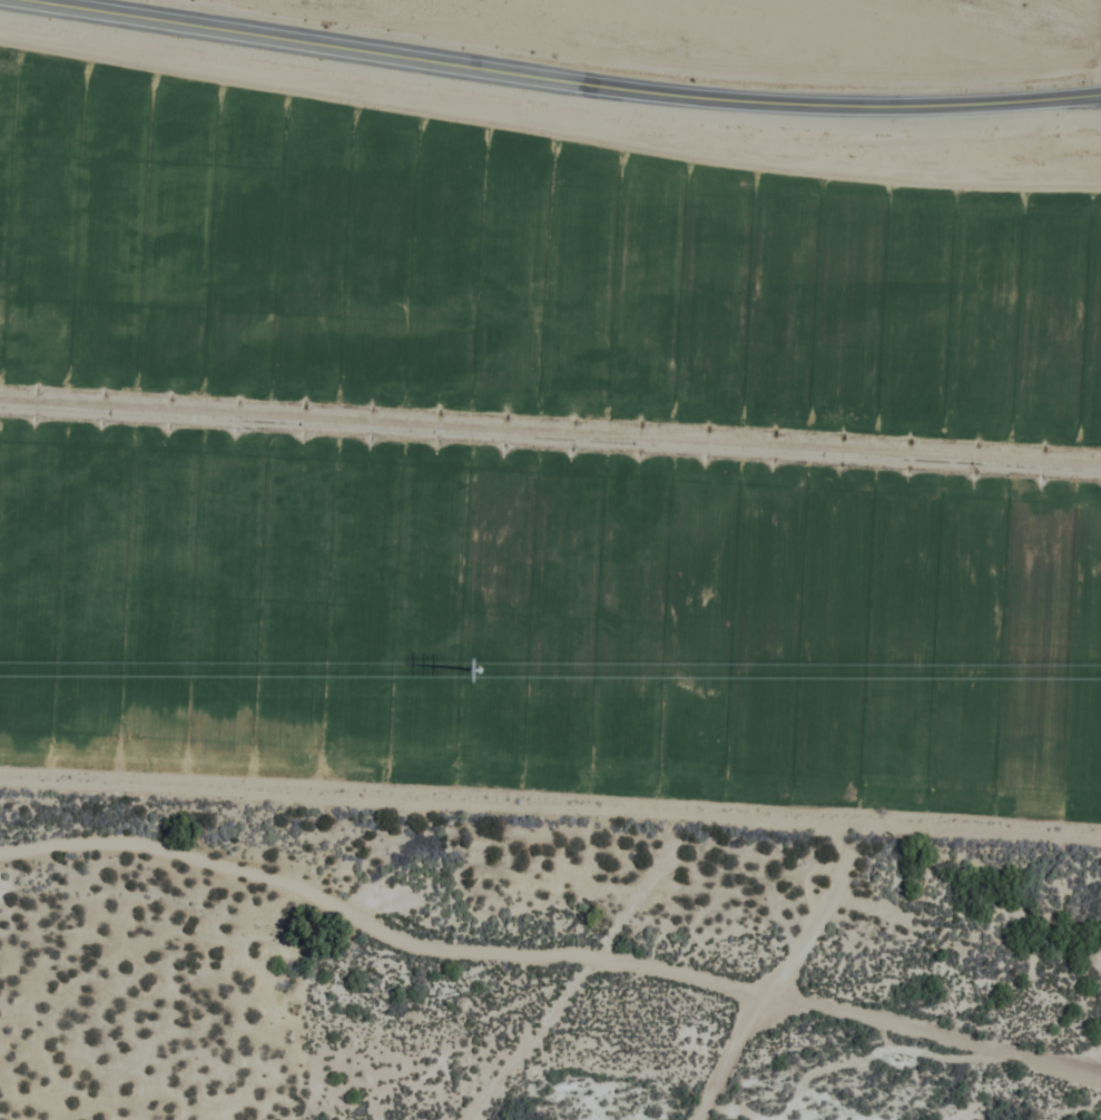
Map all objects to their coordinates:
road: (548, 82)
power tower: (481, 669)

